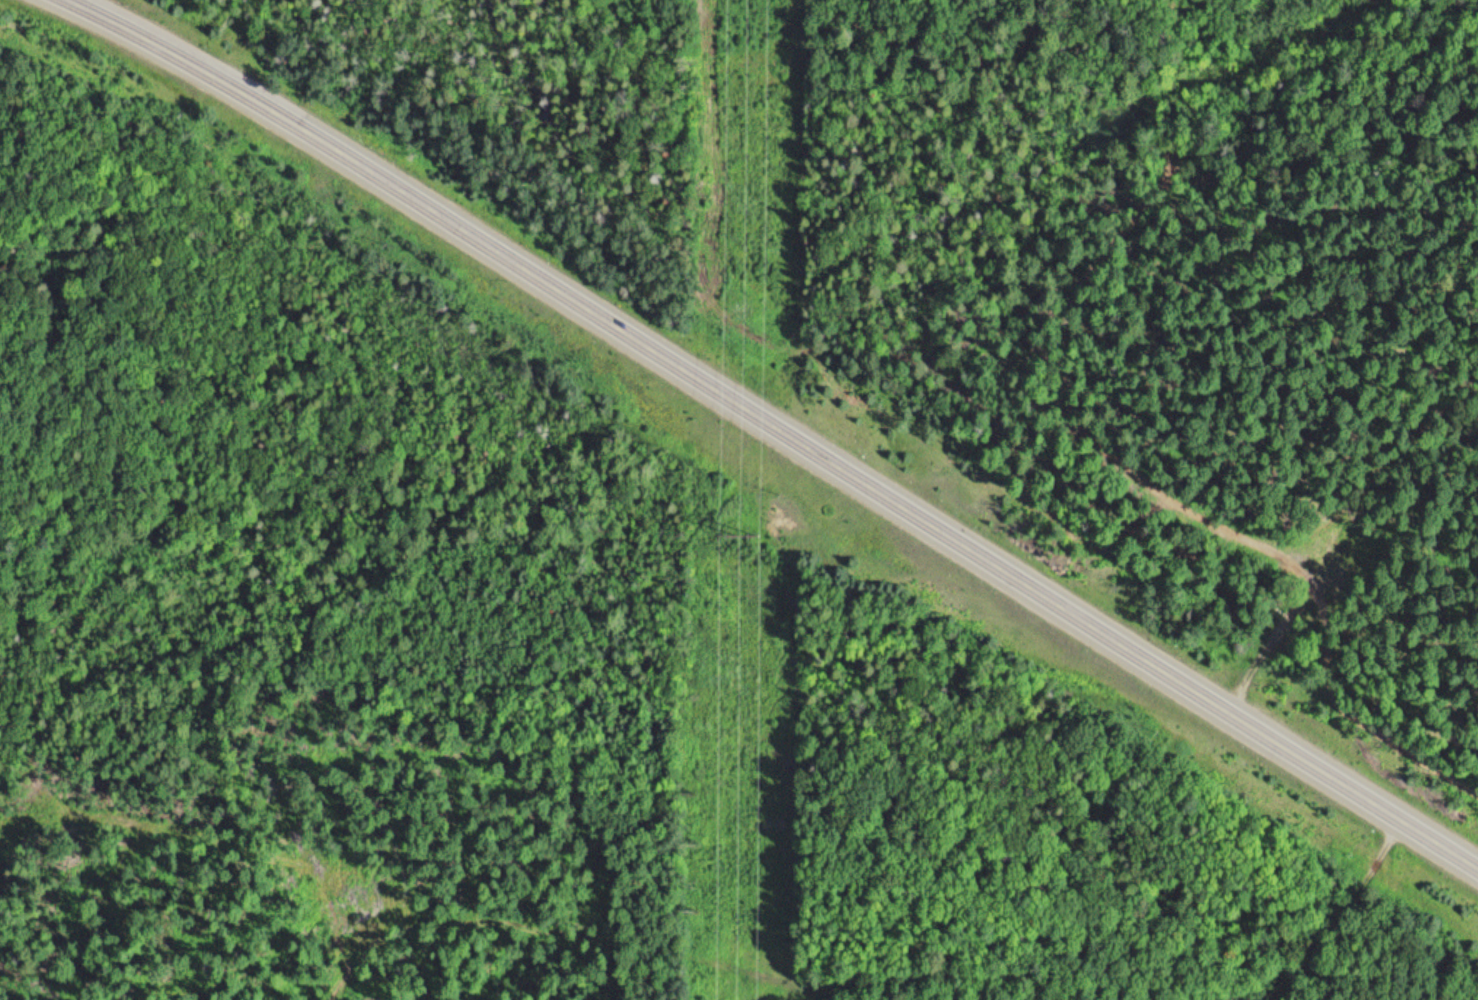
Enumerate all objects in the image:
road: (787, 430)
power tower: (742, 536)

